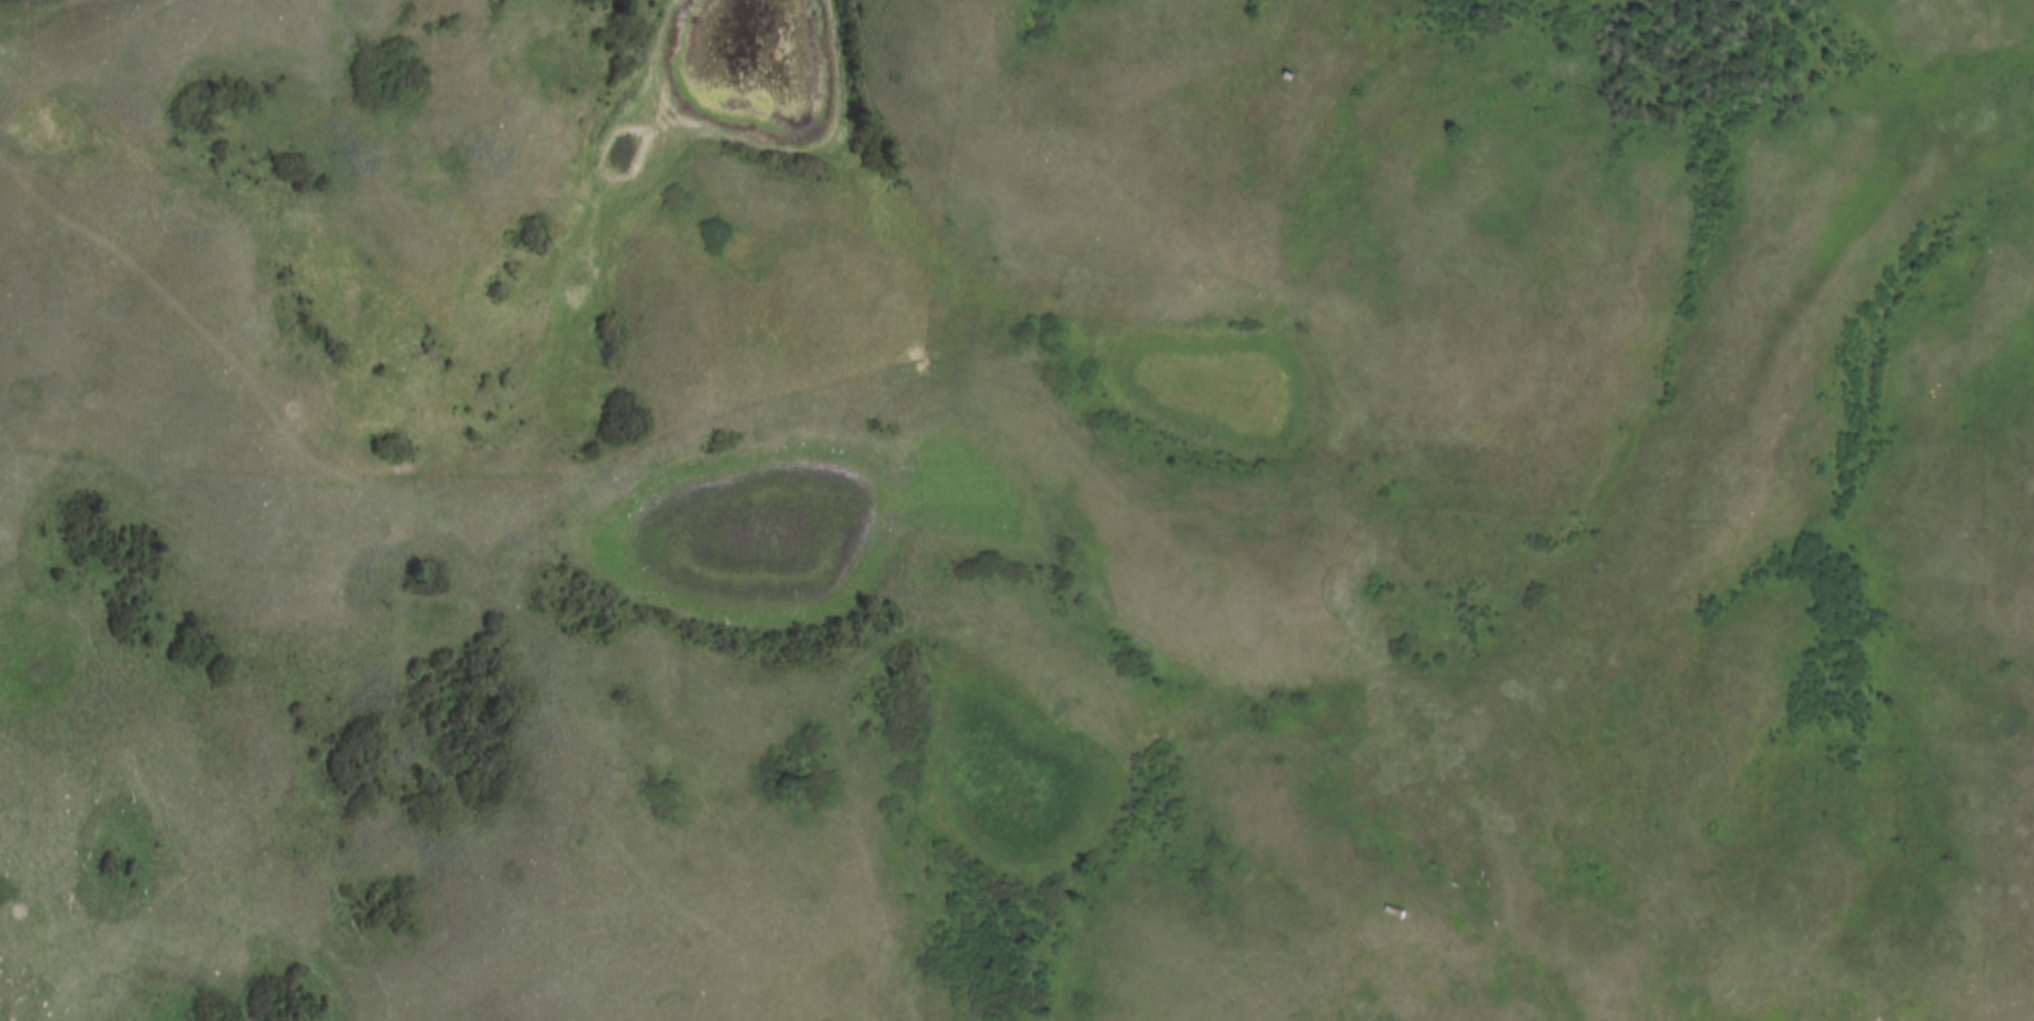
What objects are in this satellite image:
road: (1, 0)

